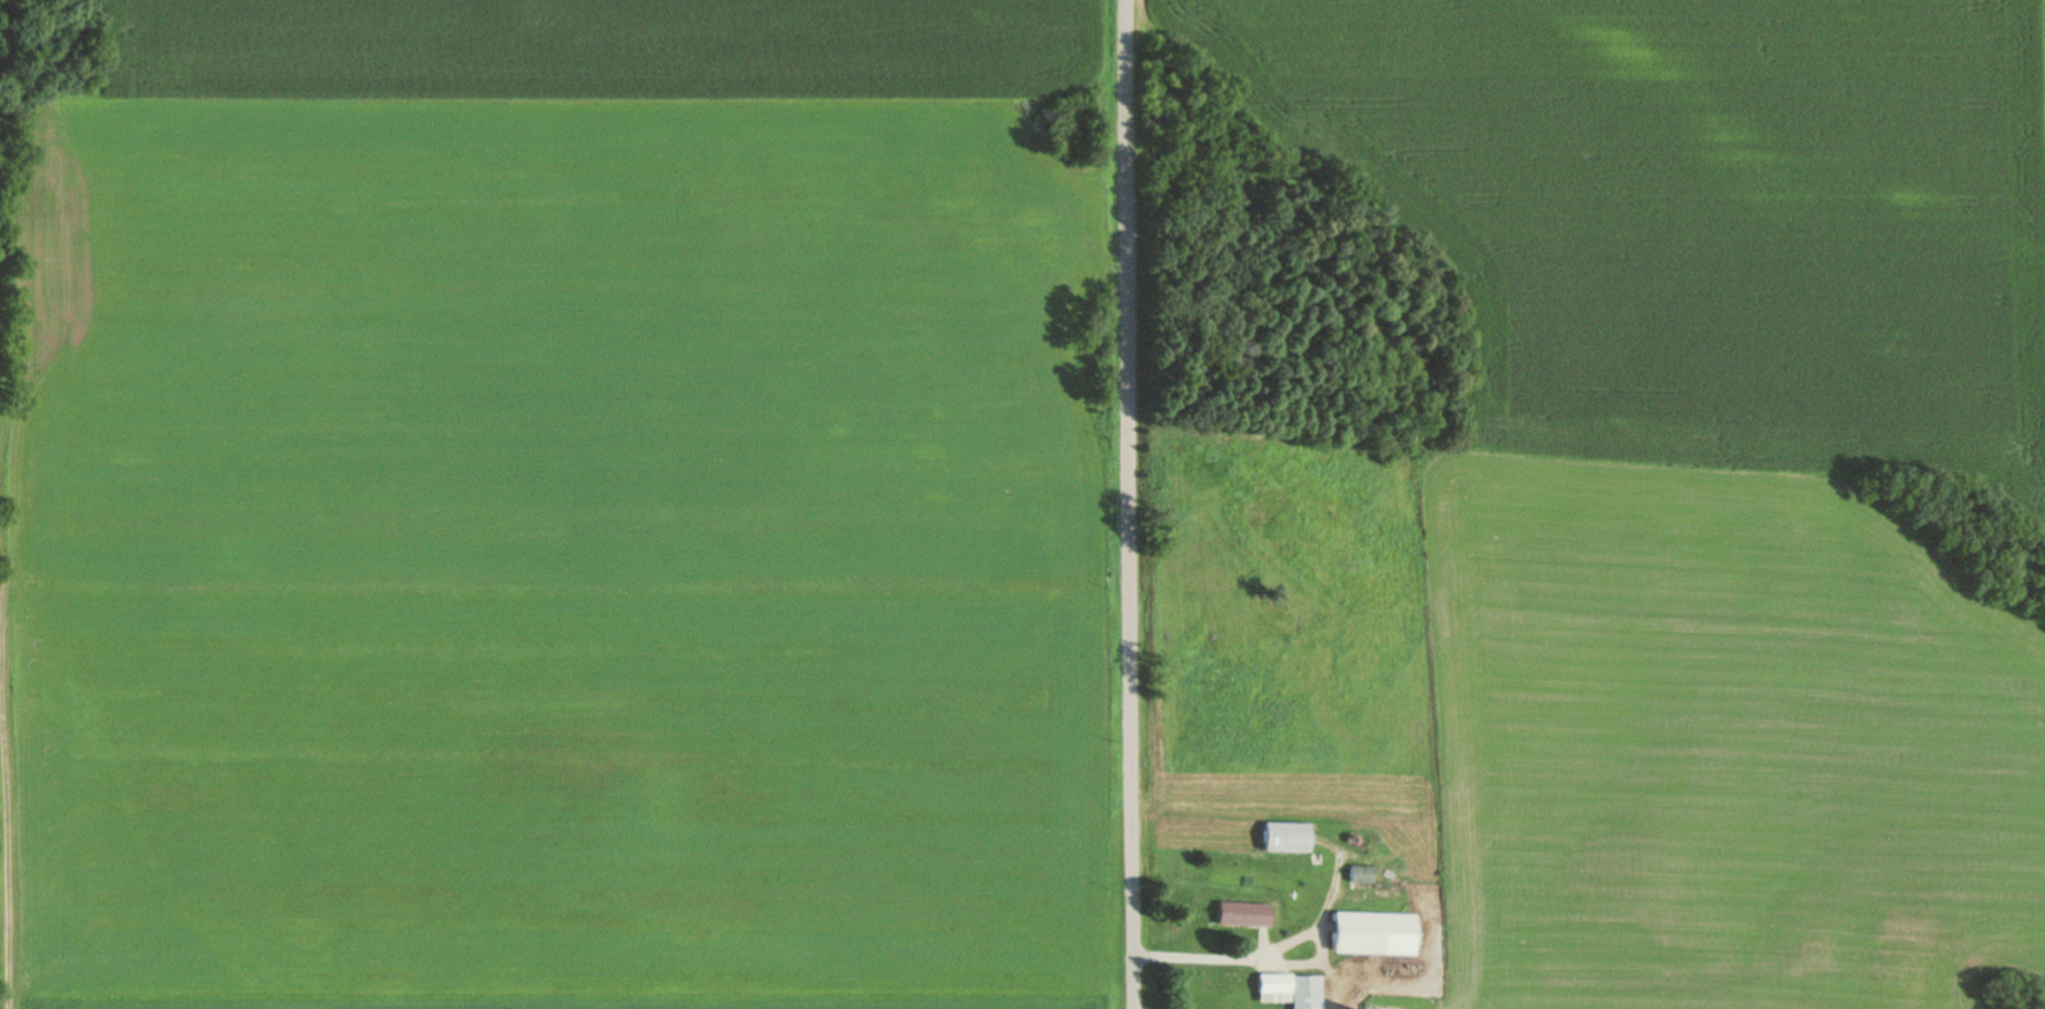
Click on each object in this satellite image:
road: (1129, 242)
road: (4, 738)
road: (1134, 746)
building: (1284, 837)
building: (1360, 873)
building: (1243, 914)
building: (1372, 934)
building: (1291, 989)

